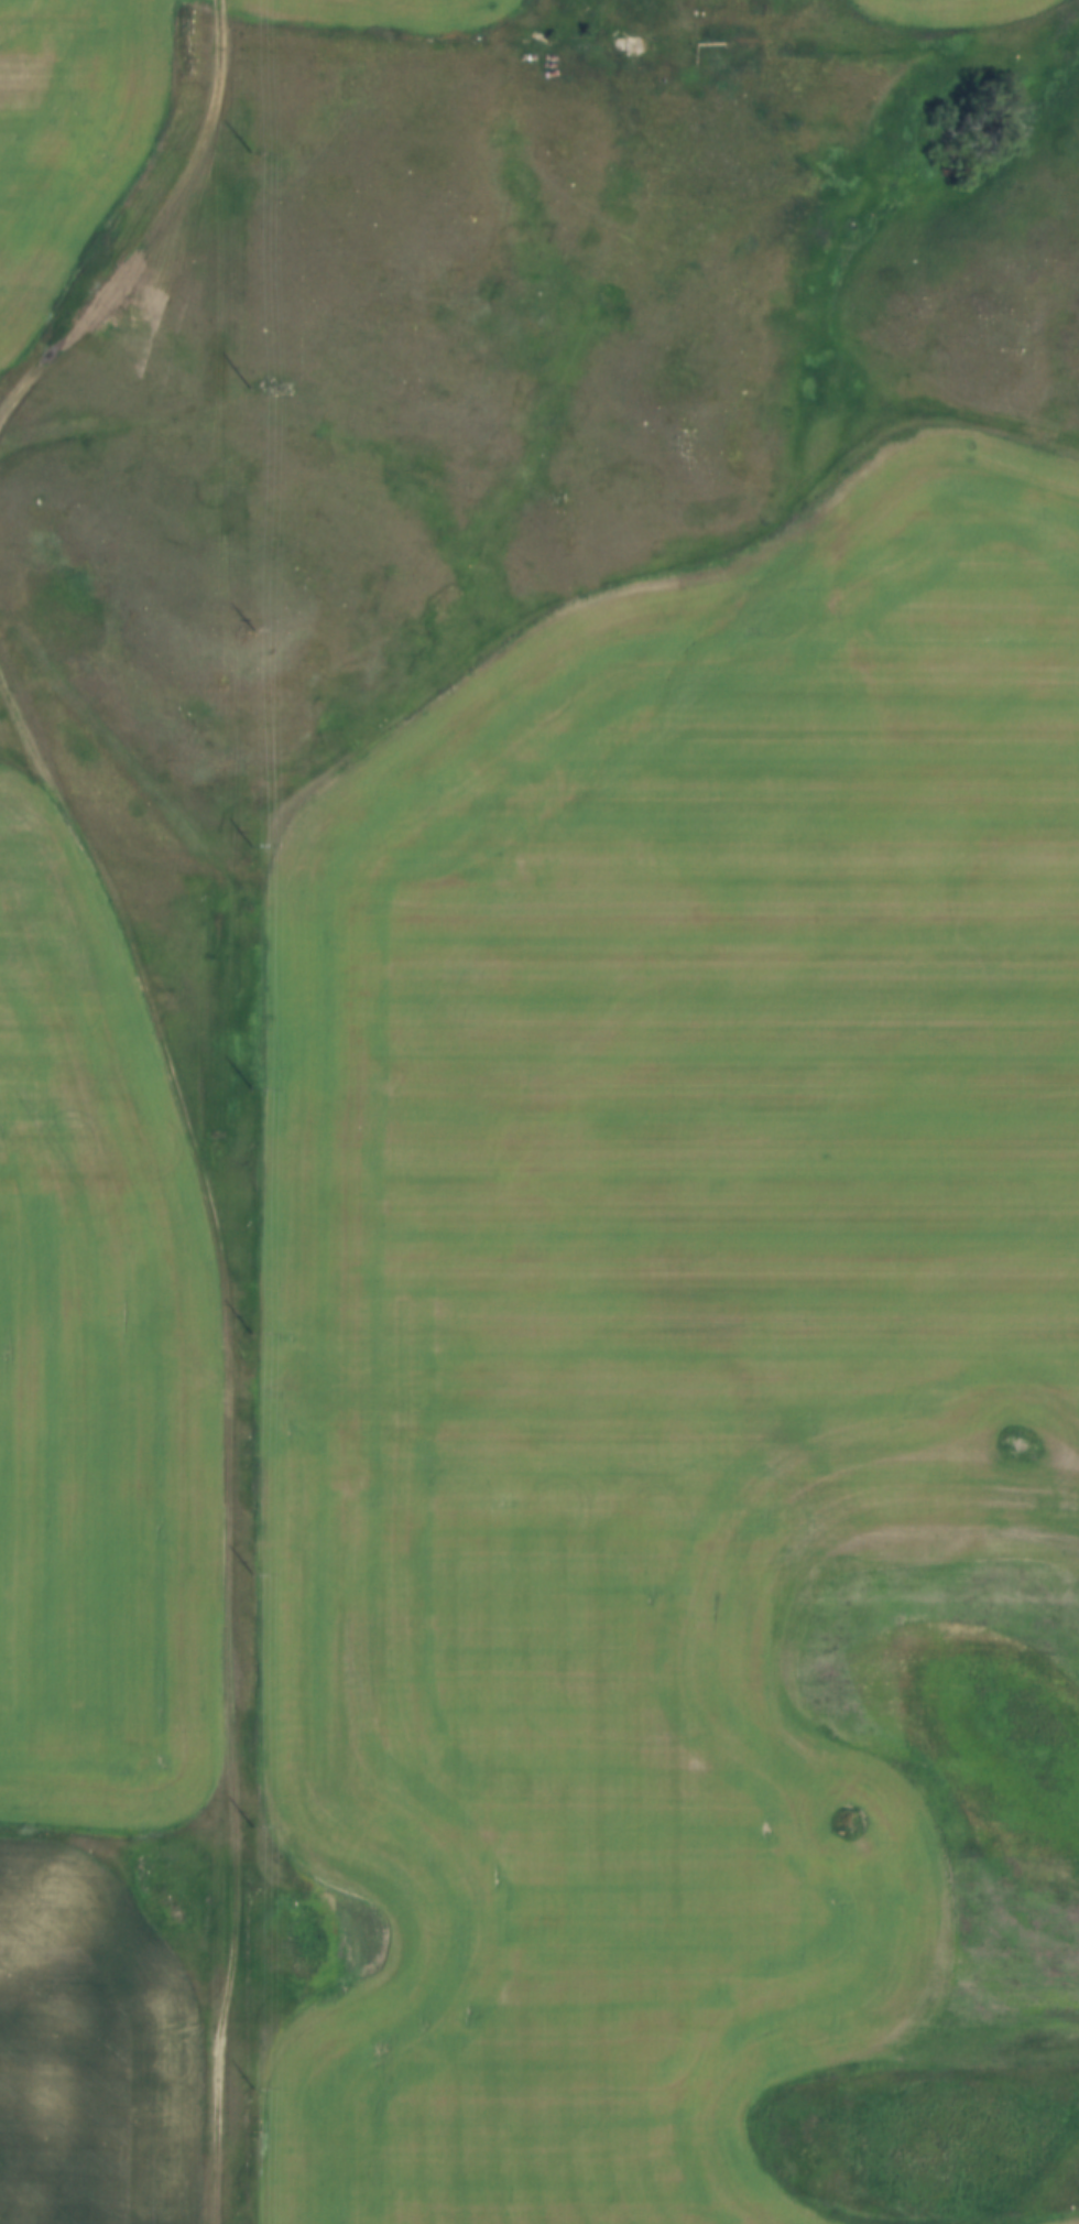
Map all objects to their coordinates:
road: (381, 31)
road: (156, 225)
road: (221, 1429)

